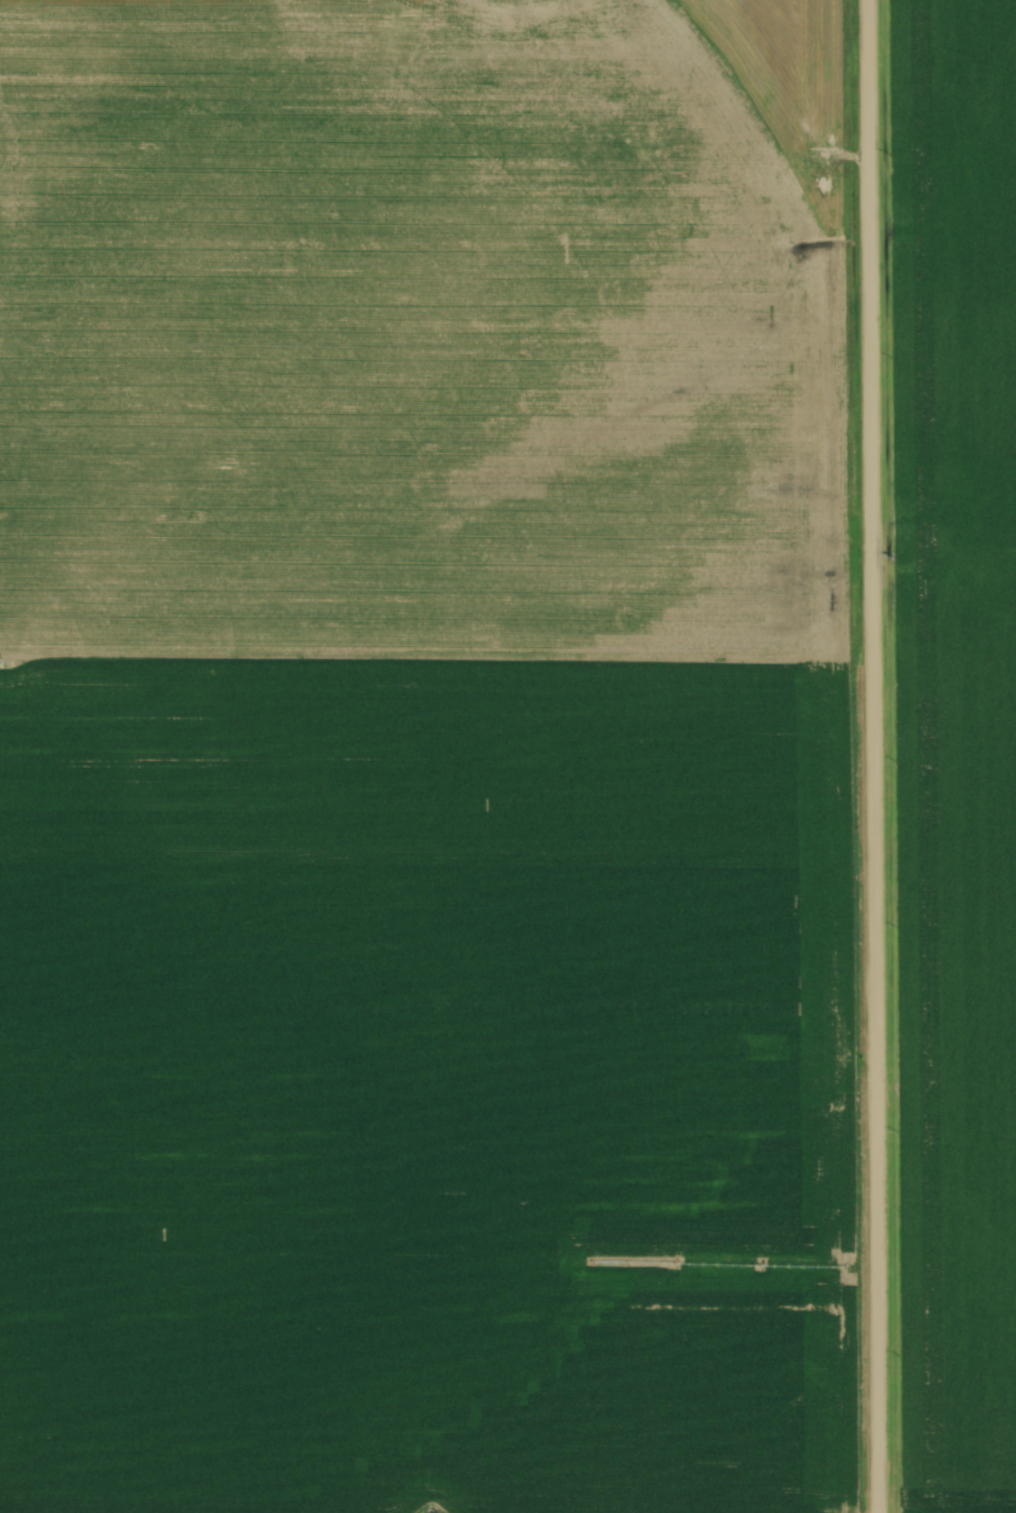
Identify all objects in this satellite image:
road: (871, 756)

